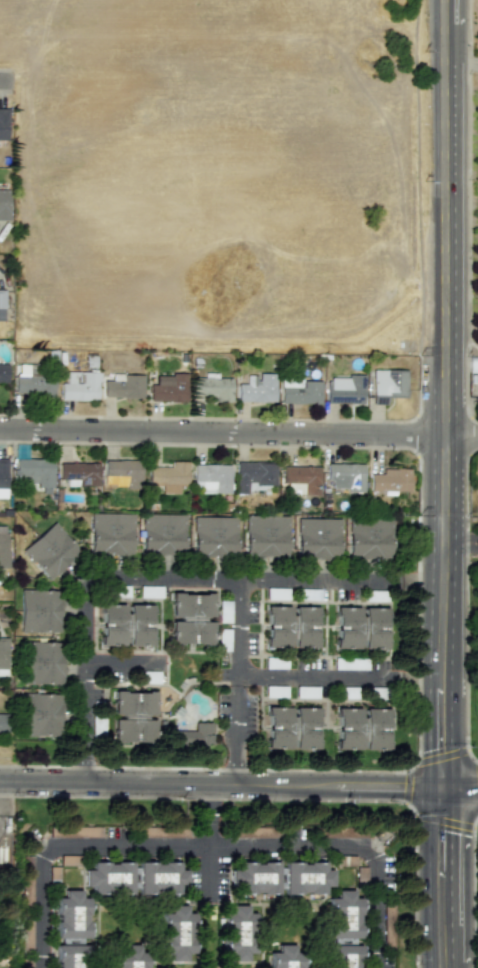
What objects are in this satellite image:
building: (477, 54)
road: (7, 78)
building: (3, 123)
building: (4, 204)
road: (444, 218)
building: (1, 305)
building: (3, 373)
building: (32, 383)
building: (387, 385)
building: (80, 386)
building: (124, 386)
building: (211, 387)
building: (169, 388)
building: (257, 388)
building: (477, 388)
building: (344, 389)
building: (299, 390)
road: (238, 433)
building: (122, 471)
building: (35, 472)
building: (79, 473)
building: (169, 476)
building: (255, 476)
building: (346, 476)
building: (2, 477)
building: (211, 478)
building: (301, 479)
building: (477, 479)
building: (390, 480)
building: (111, 536)
building: (164, 536)
building: (214, 539)
building: (268, 539)
building: (318, 539)
building: (370, 539)
road: (461, 544)
building: (3, 546)
building: (51, 554)
road: (155, 580)
road: (445, 612)
building: (39, 614)
building: (180, 618)
building: (125, 625)
building: (290, 627)
building: (360, 628)
road: (238, 631)
building: (3, 653)
building: (41, 664)
road: (123, 665)
road: (310, 675)
building: (39, 715)
building: (133, 716)
building: (2, 723)
building: (277, 727)
building: (304, 728)
building: (347, 728)
building: (374, 729)
road: (236, 734)
building: (195, 735)
road: (87, 769)
road: (43, 782)
road: (266, 785)
road: (462, 788)
road: (286, 799)
road: (207, 803)
road: (206, 848)
road: (208, 858)
building: (109, 877)
building: (161, 878)
building: (254, 878)
building: (306, 878)
road: (446, 878)
road: (474, 891)
building: (71, 915)
building: (344, 915)
building: (238, 933)
road: (270, 943)
building: (71, 956)
building: (344, 956)
building: (130, 957)
building: (286, 957)
road: (211, 962)

